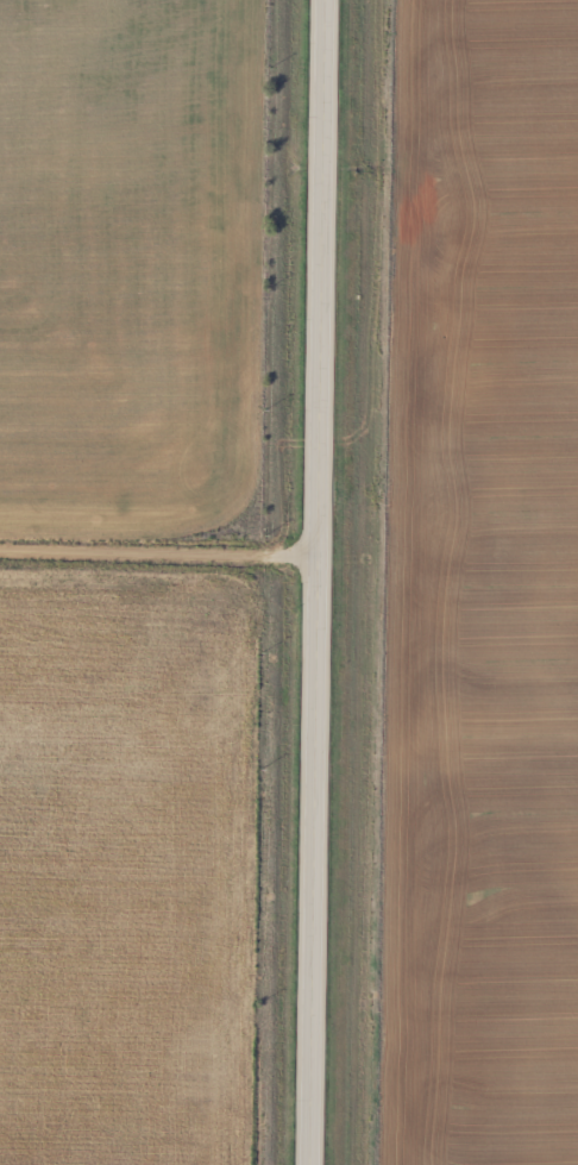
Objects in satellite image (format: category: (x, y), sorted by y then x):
road: (159, 555)
road: (319, 582)

